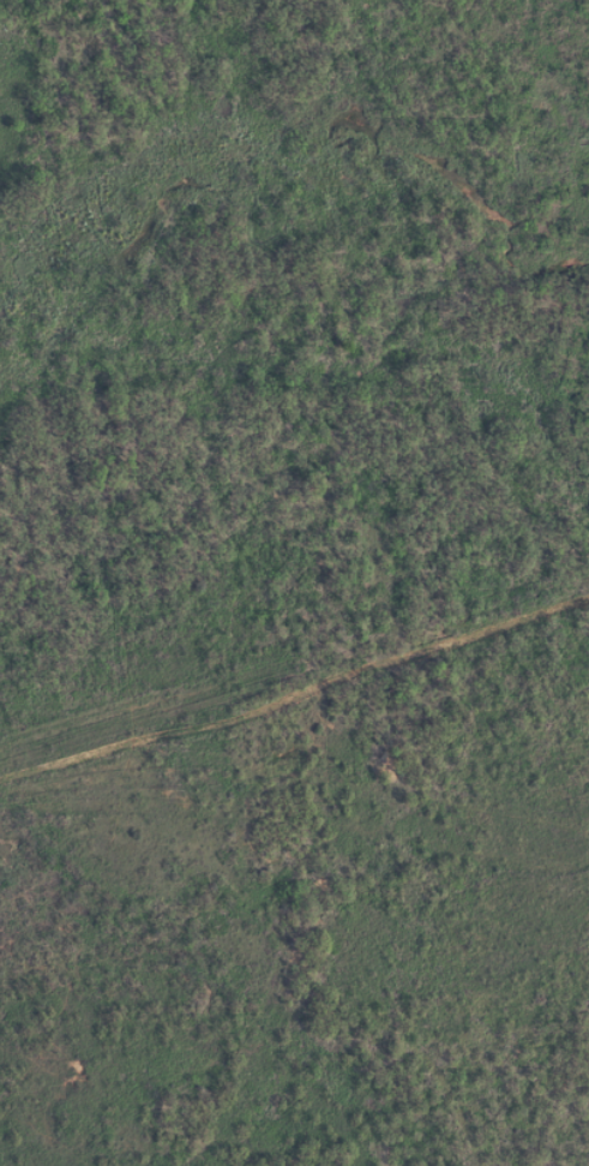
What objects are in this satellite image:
road: (294, 710)

